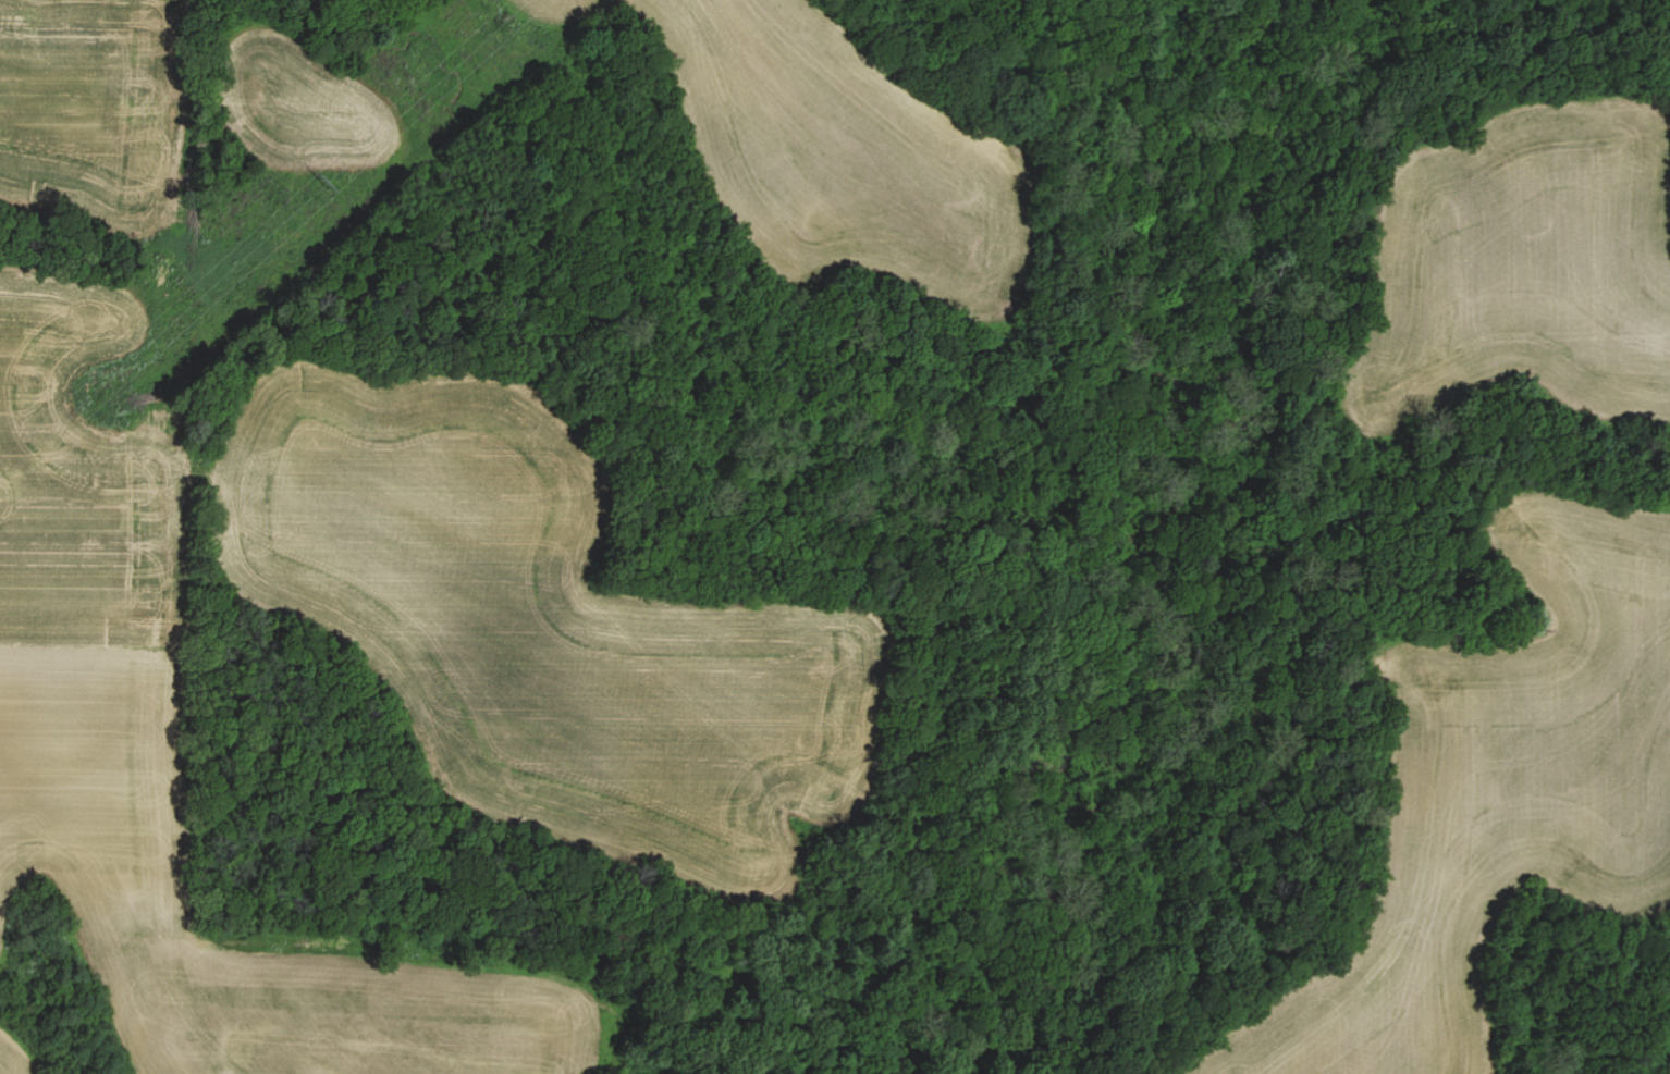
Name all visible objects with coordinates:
power tower: (319, 182)

